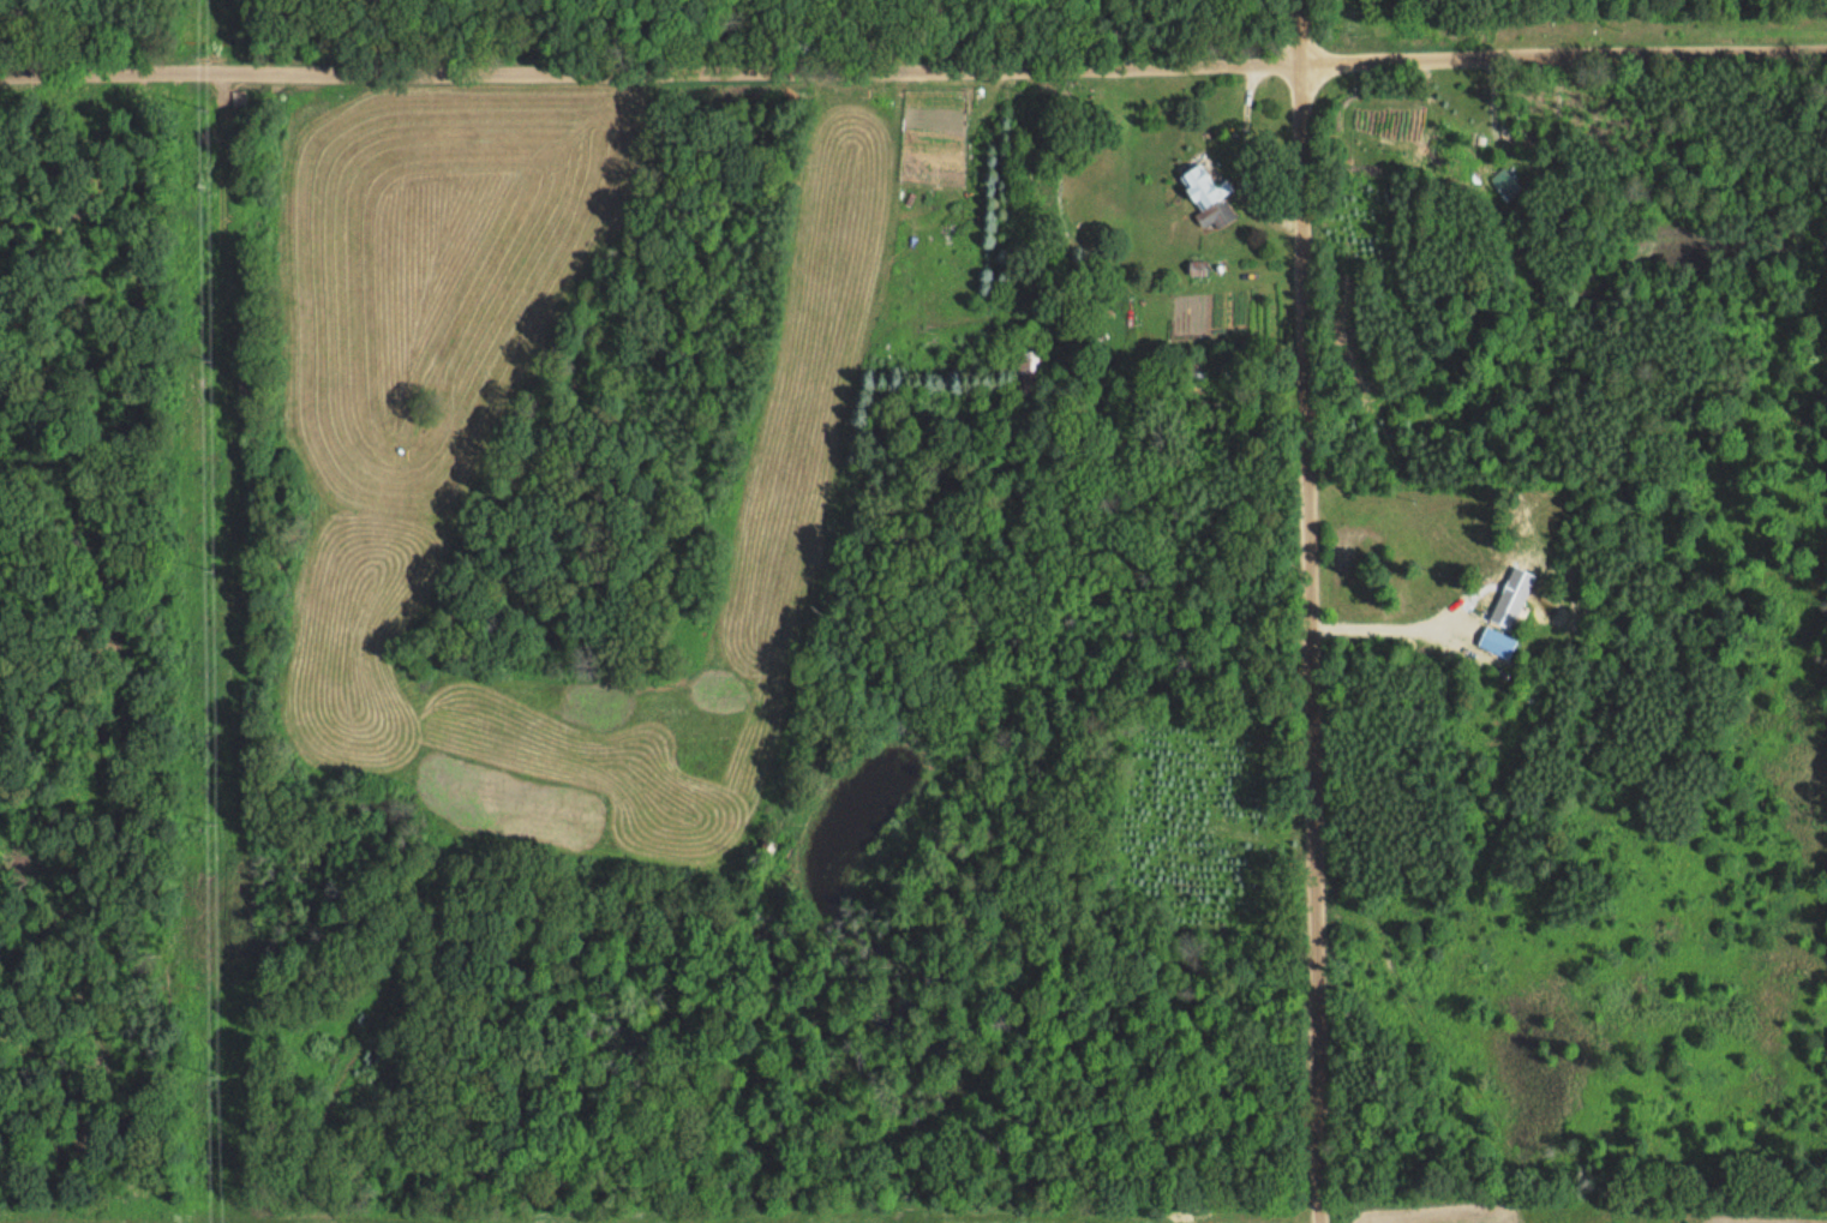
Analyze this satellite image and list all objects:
road: (913, 55)
building: (1504, 182)
building: (1206, 197)
building: (1029, 364)
building: (1511, 595)
road: (1302, 611)
road: (1384, 628)

